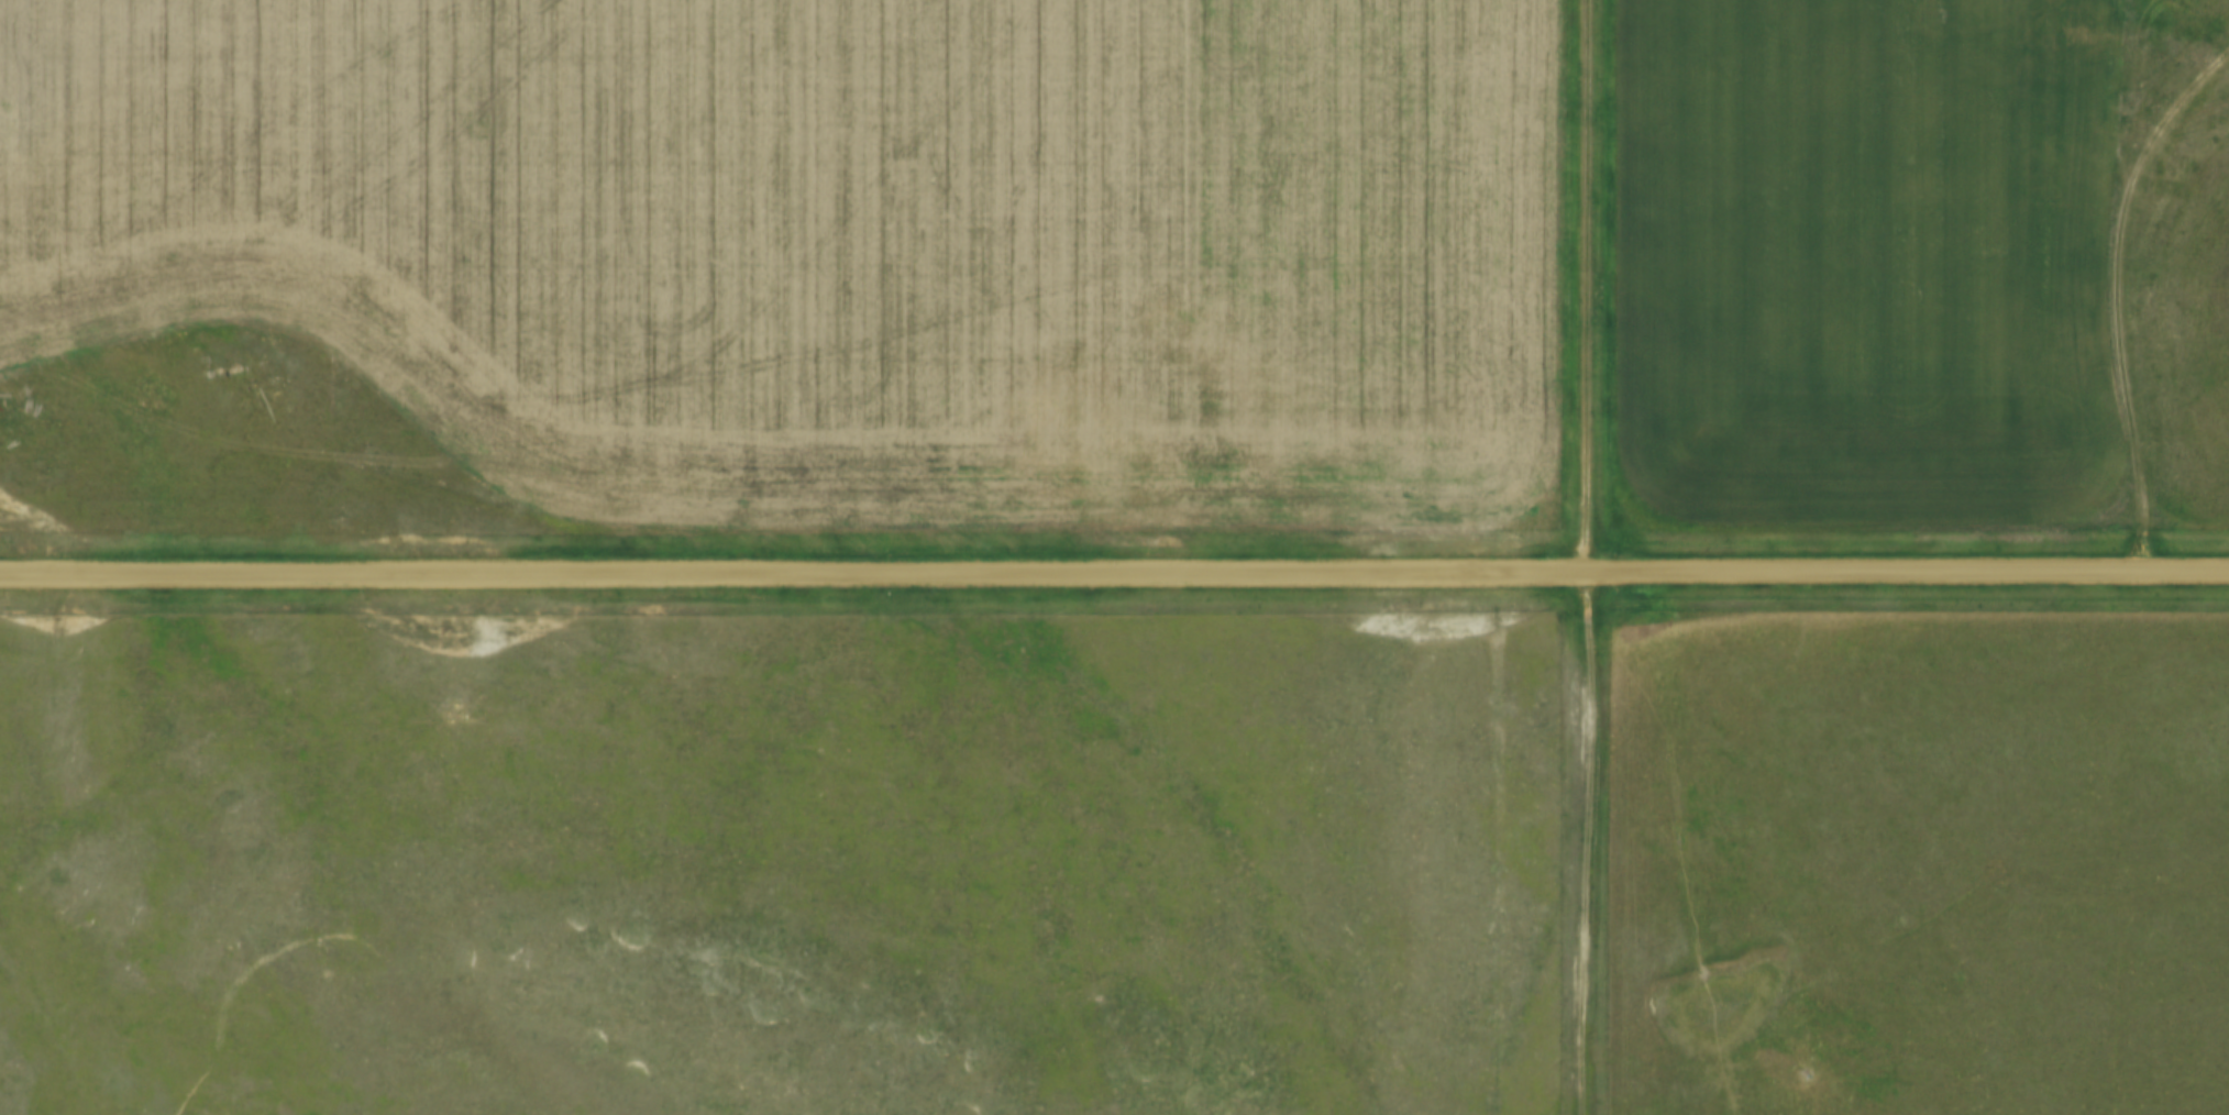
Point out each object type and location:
road: (249, 290)
road: (1587, 557)
road: (1114, 573)

